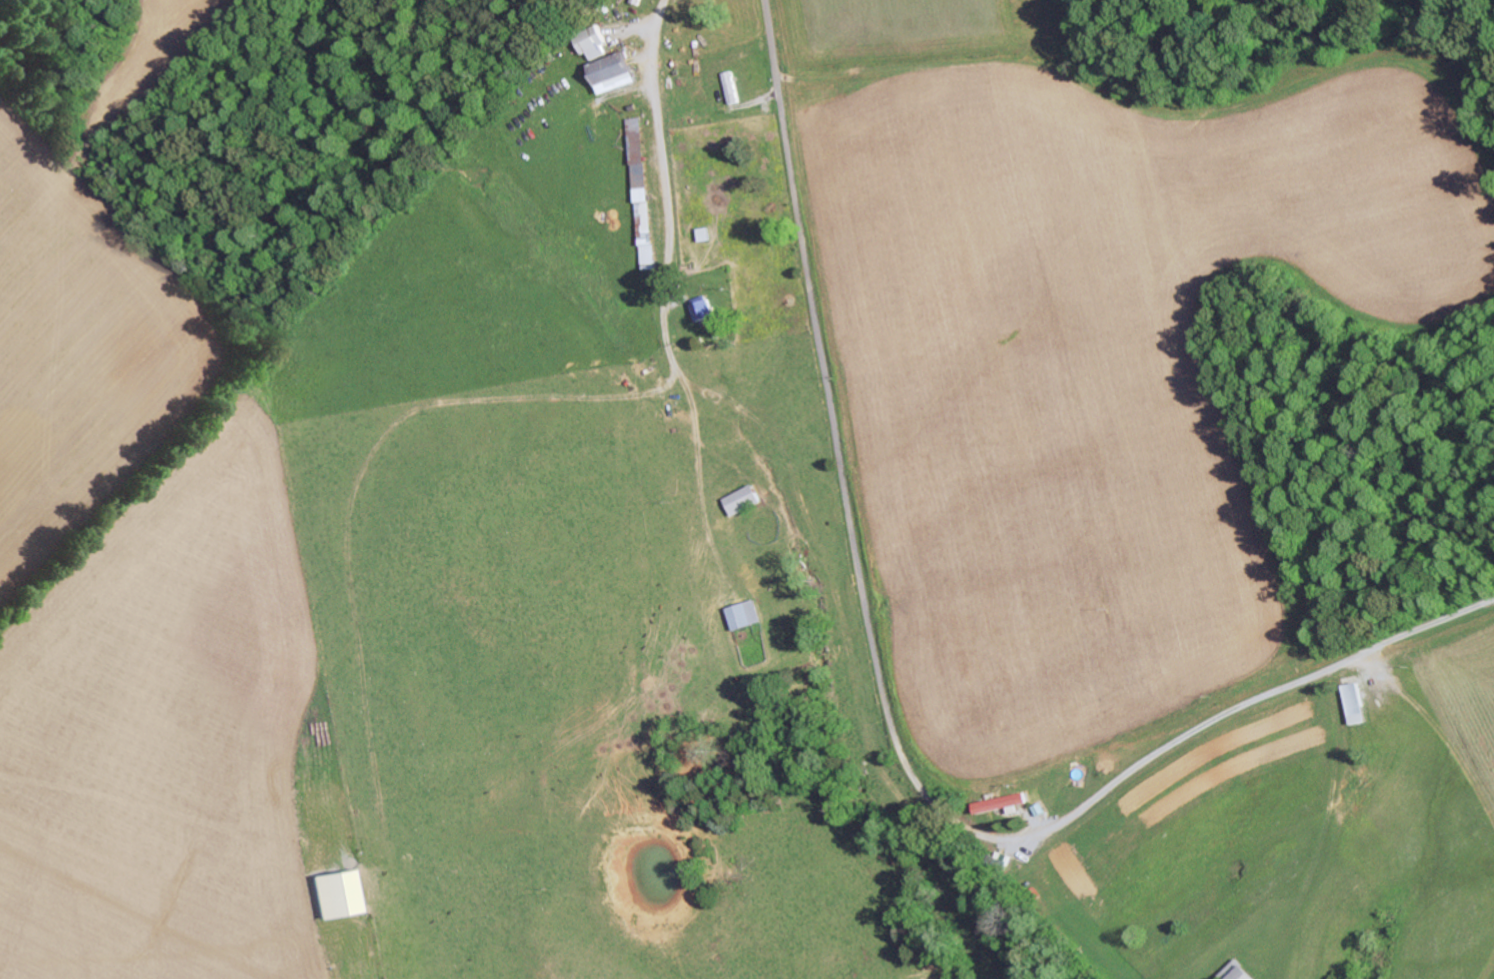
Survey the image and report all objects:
building: (596, 42)
building: (617, 72)
building: (644, 190)
building: (704, 309)
road: (829, 411)
building: (743, 499)
building: (746, 614)
building: (1355, 703)
building: (1001, 803)
building: (339, 894)
building: (1237, 971)

